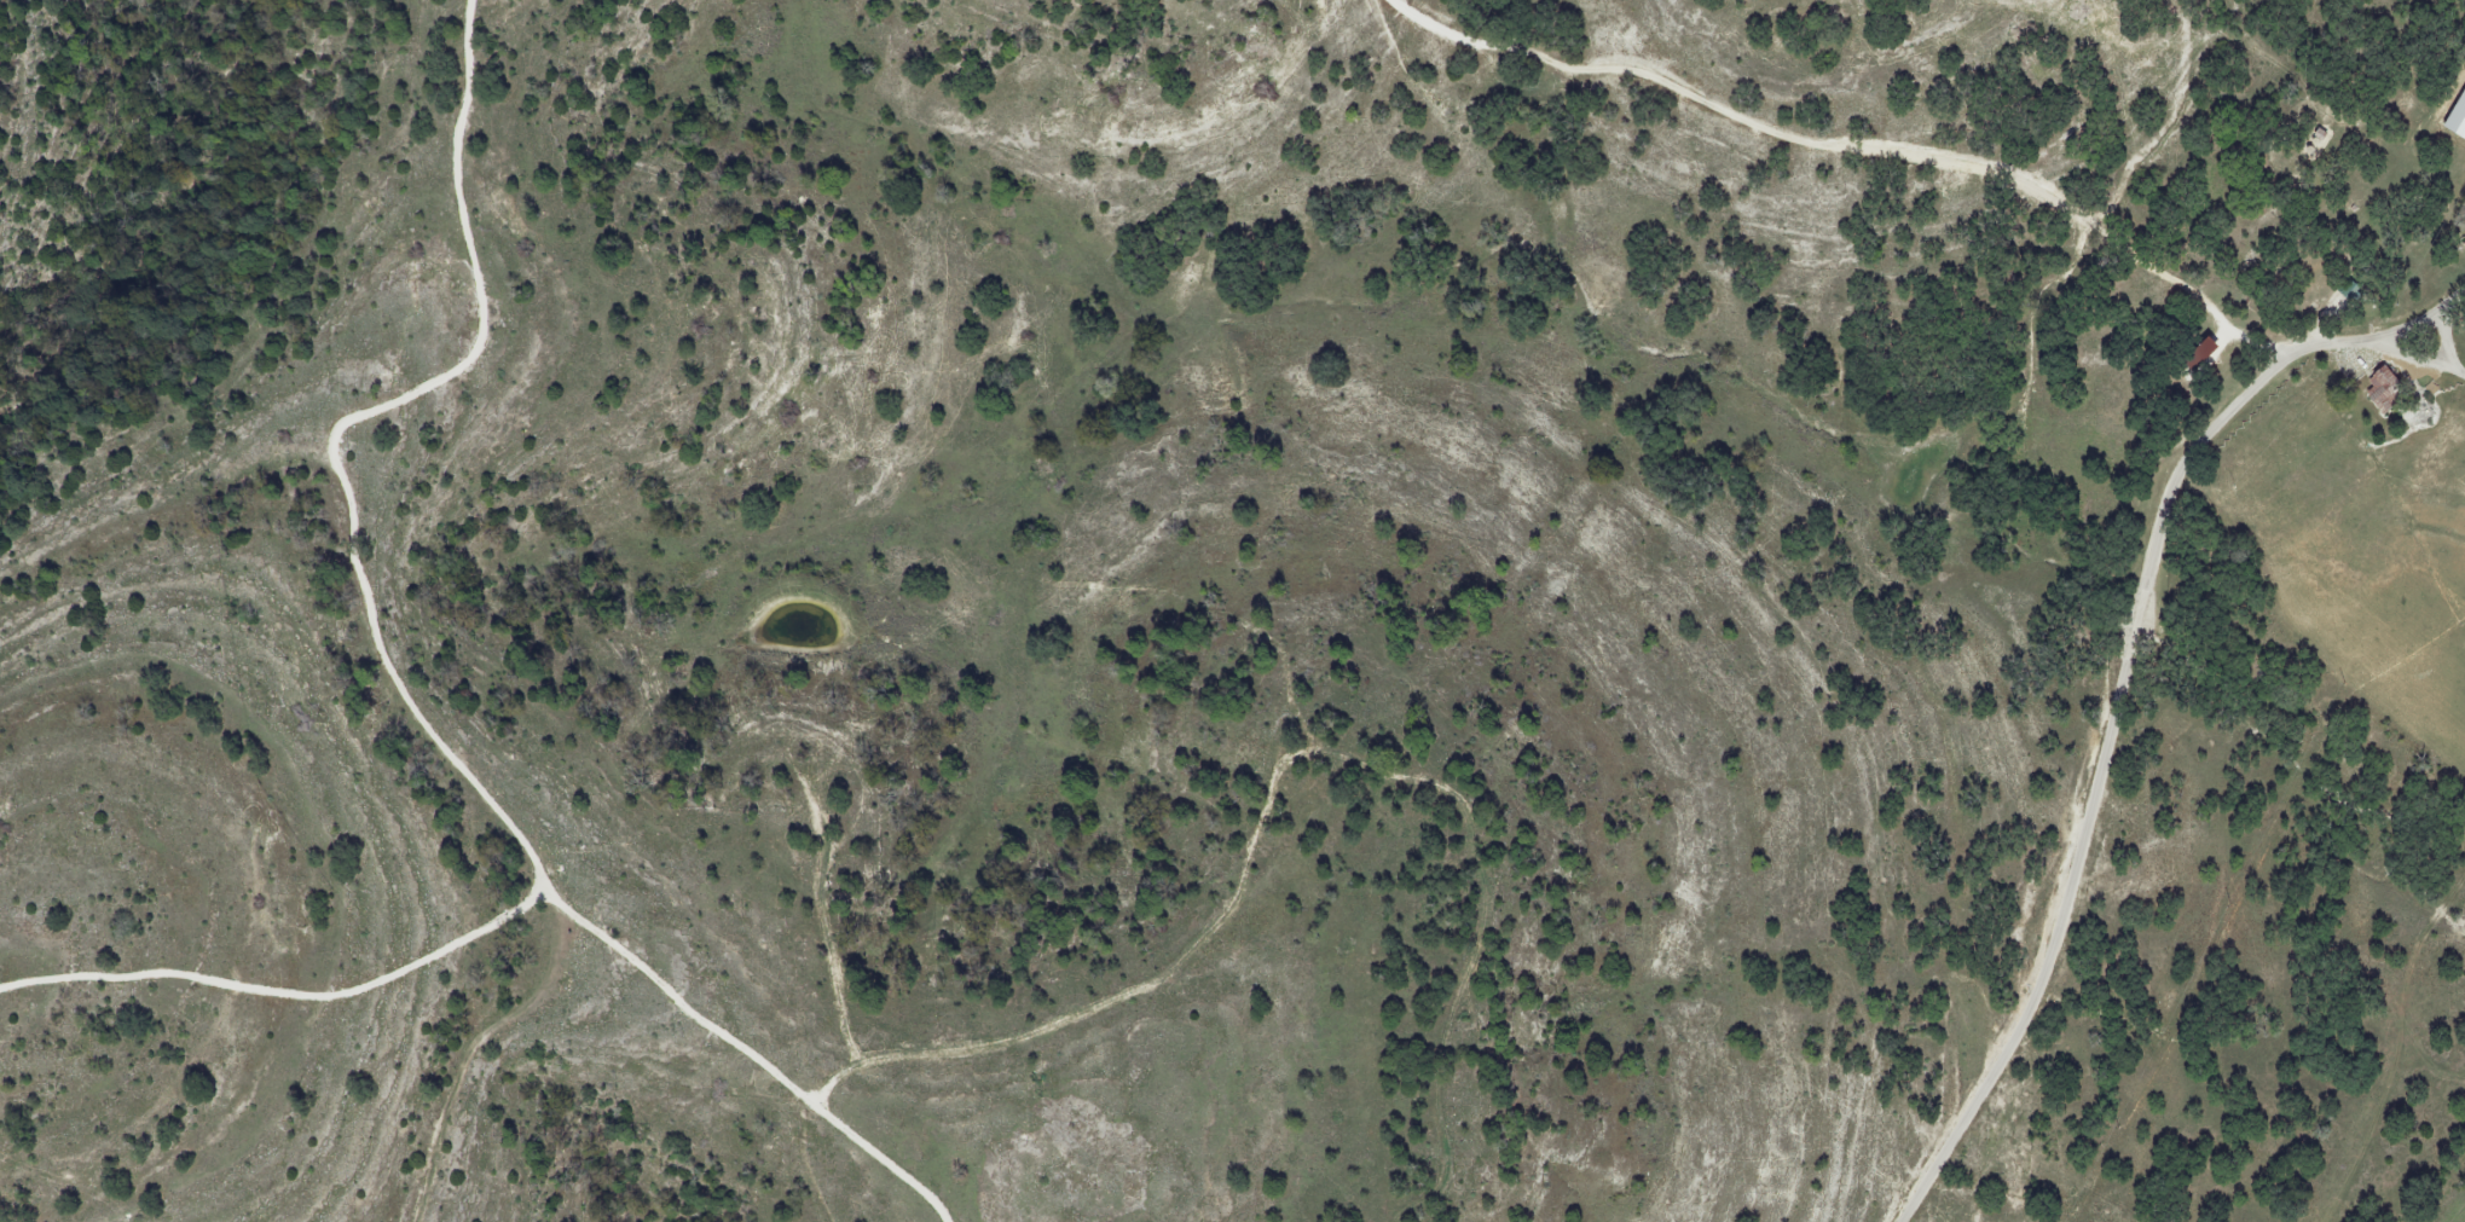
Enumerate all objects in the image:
road: (2117, 689)

